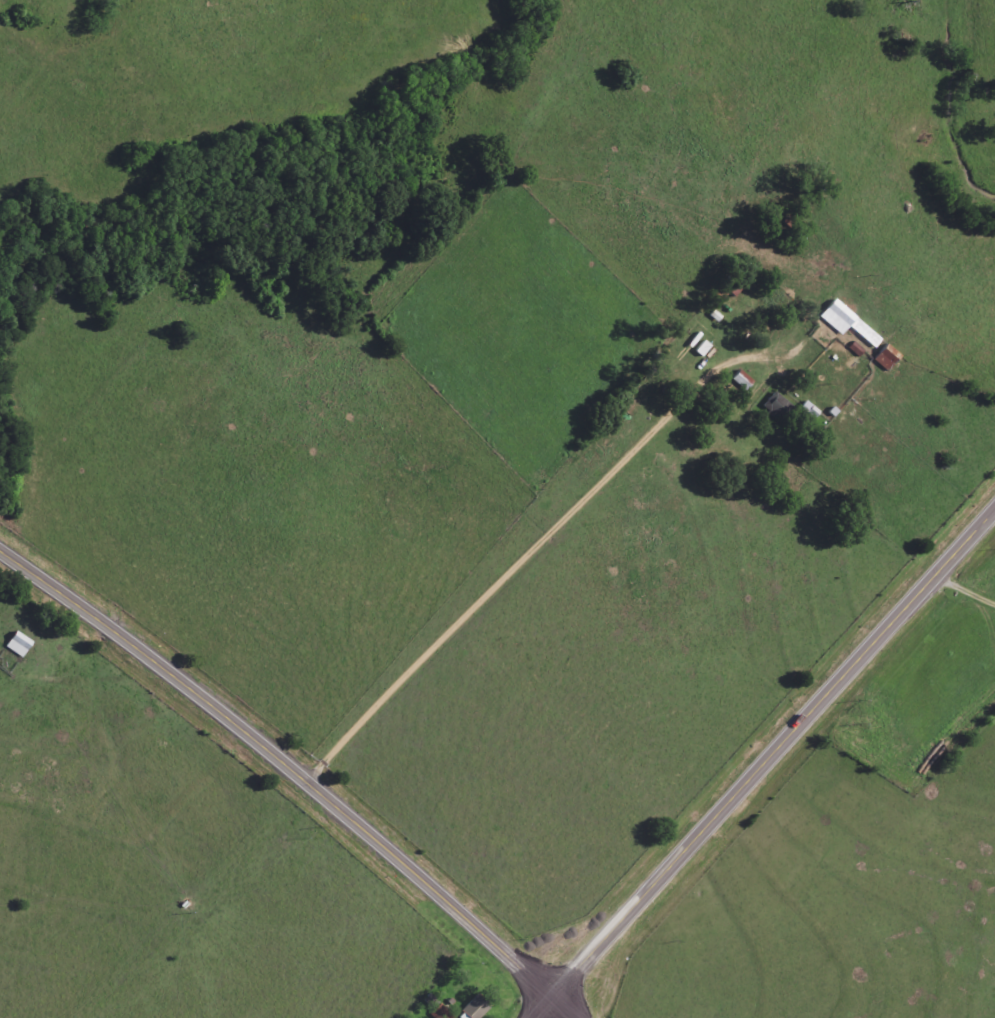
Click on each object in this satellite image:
building: (844, 329)
building: (887, 357)
building: (810, 411)
road: (513, 571)
road: (960, 596)
road: (764, 765)
road: (297, 770)
building: (478, 1007)

